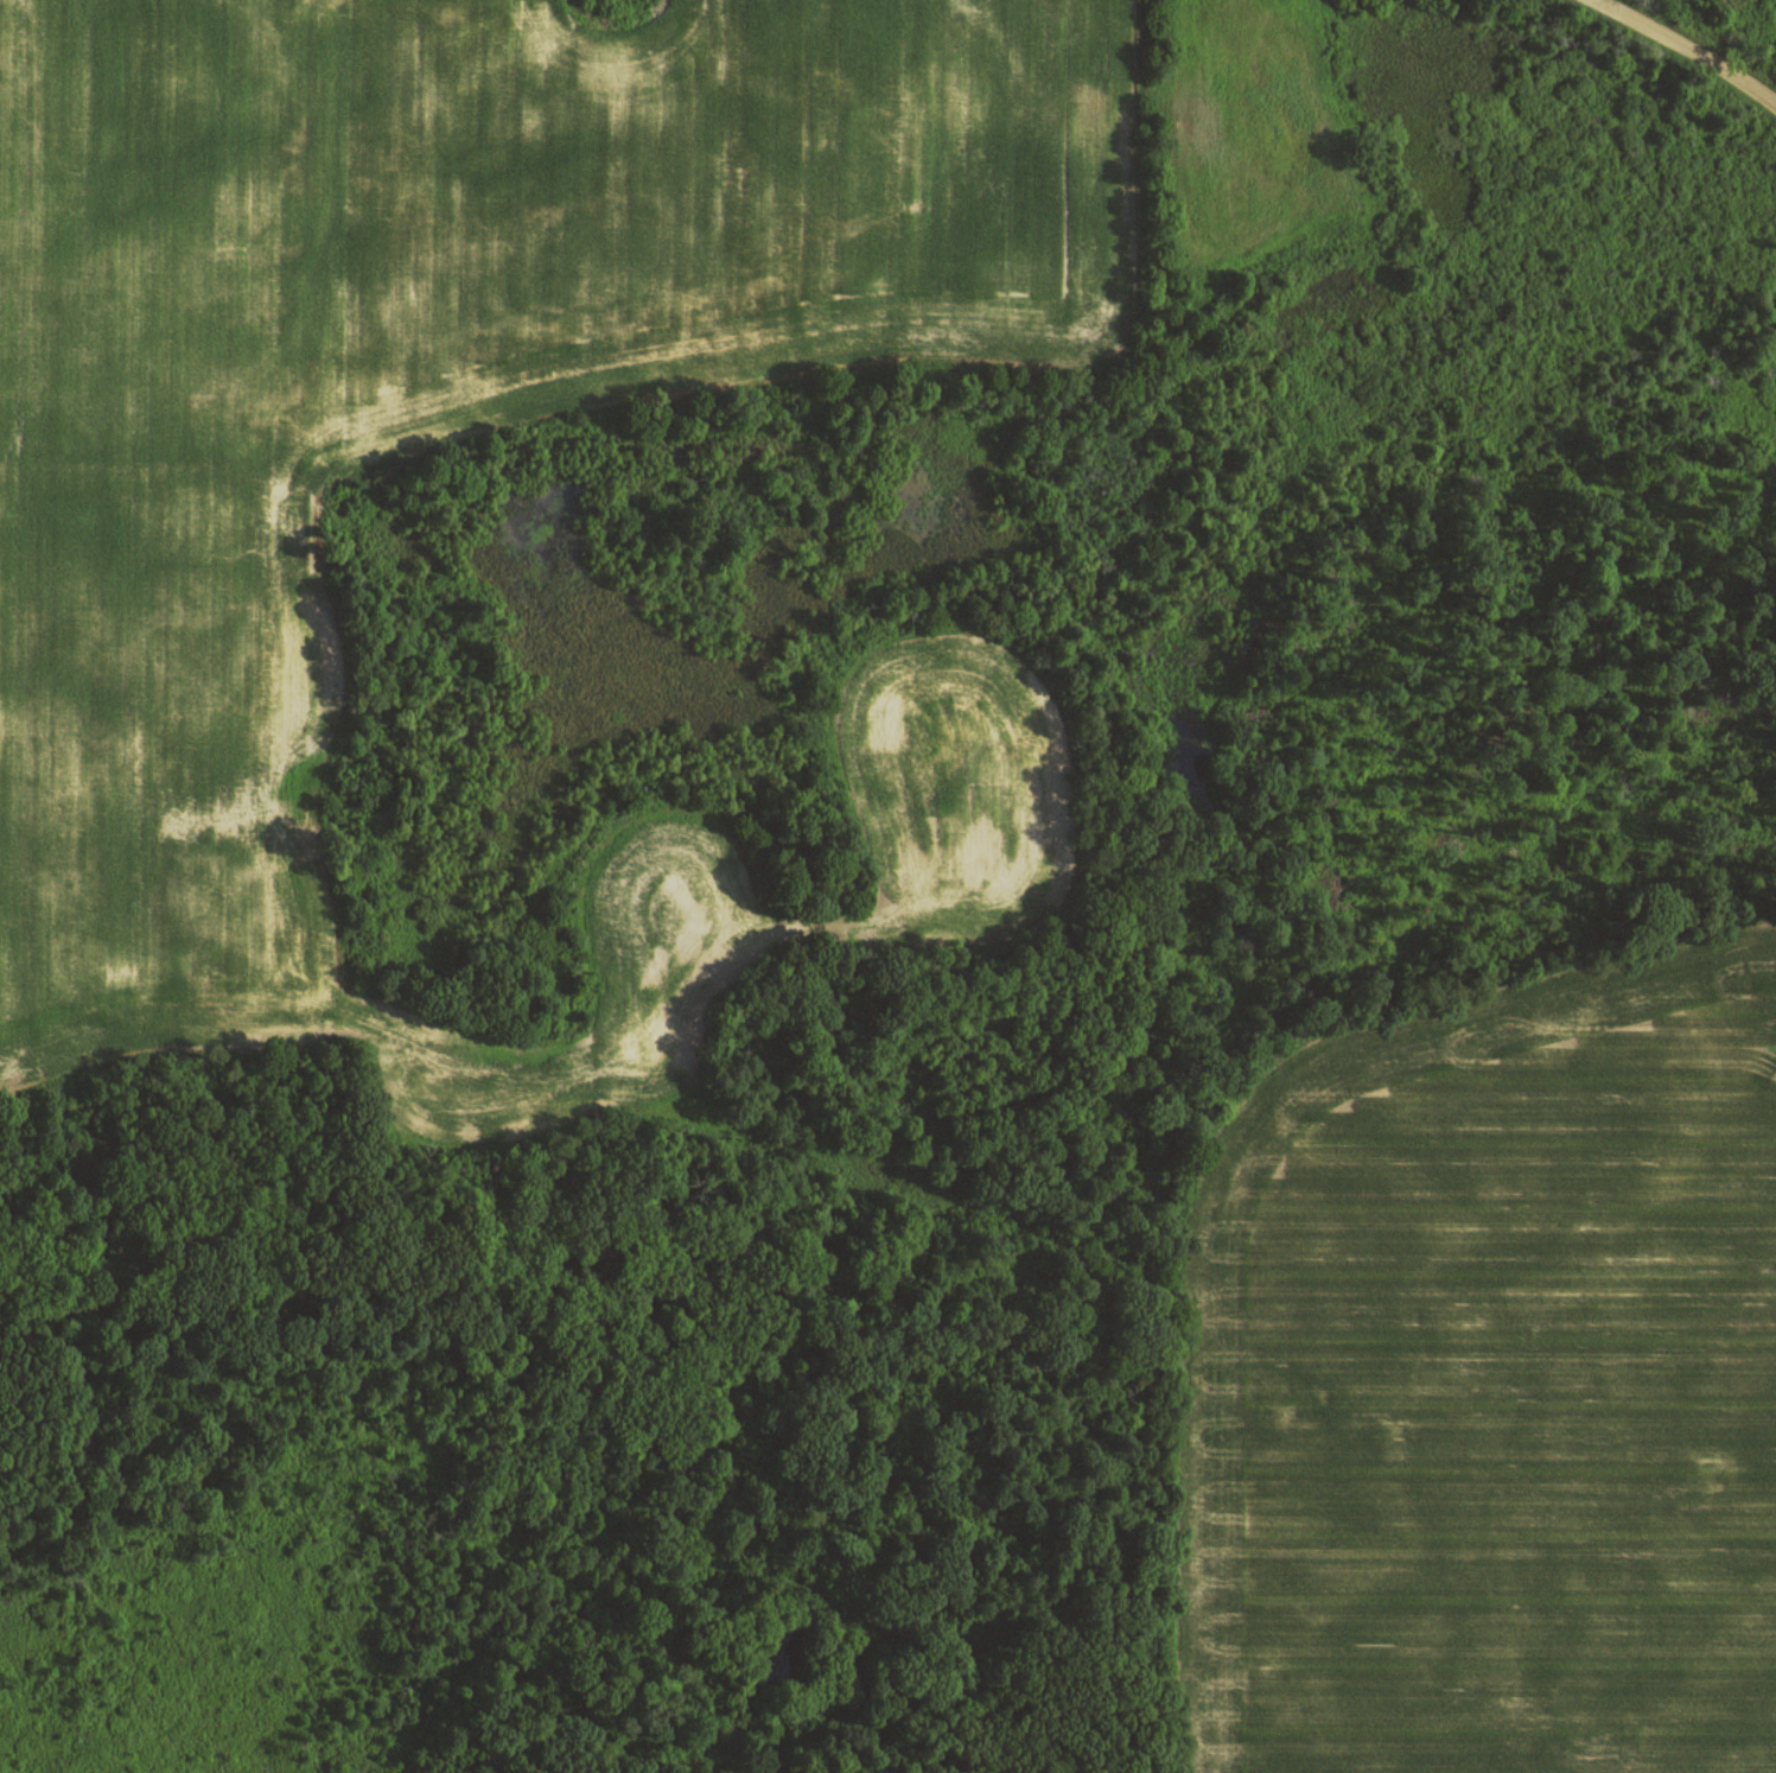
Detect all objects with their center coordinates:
road: (1691, 47)

